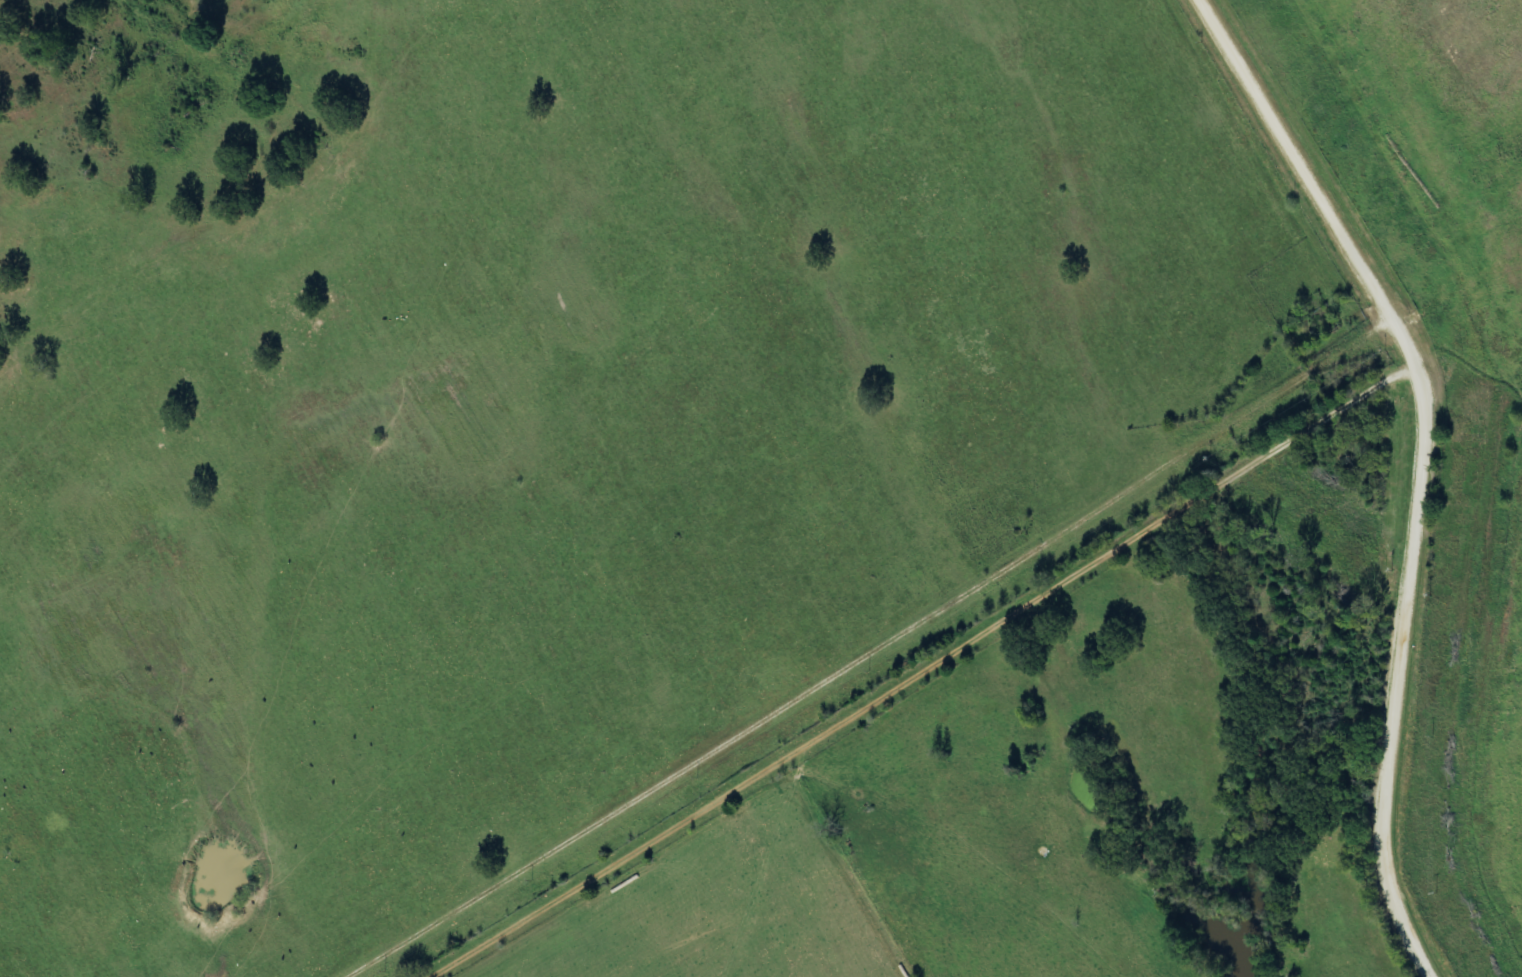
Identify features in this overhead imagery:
road: (1421, 463)

